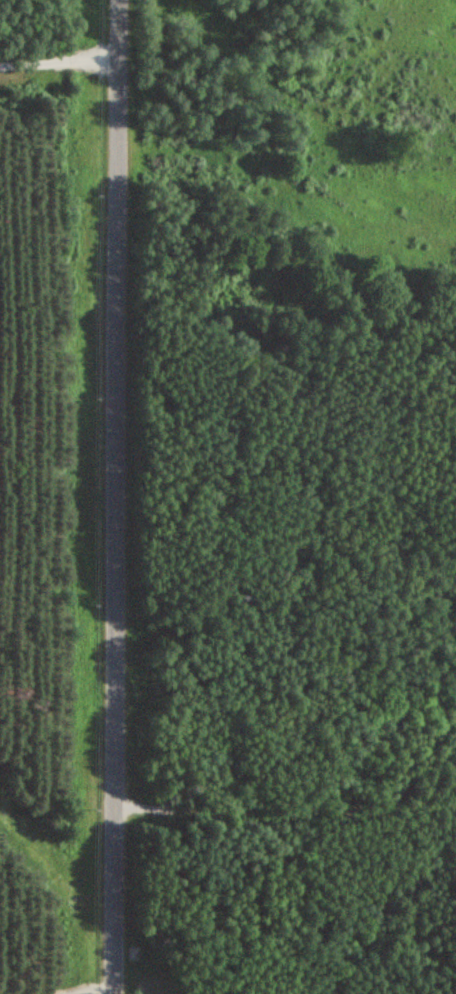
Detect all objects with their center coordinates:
road: (58, 62)
road: (287, 168)
road: (119, 496)
road: (286, 835)

